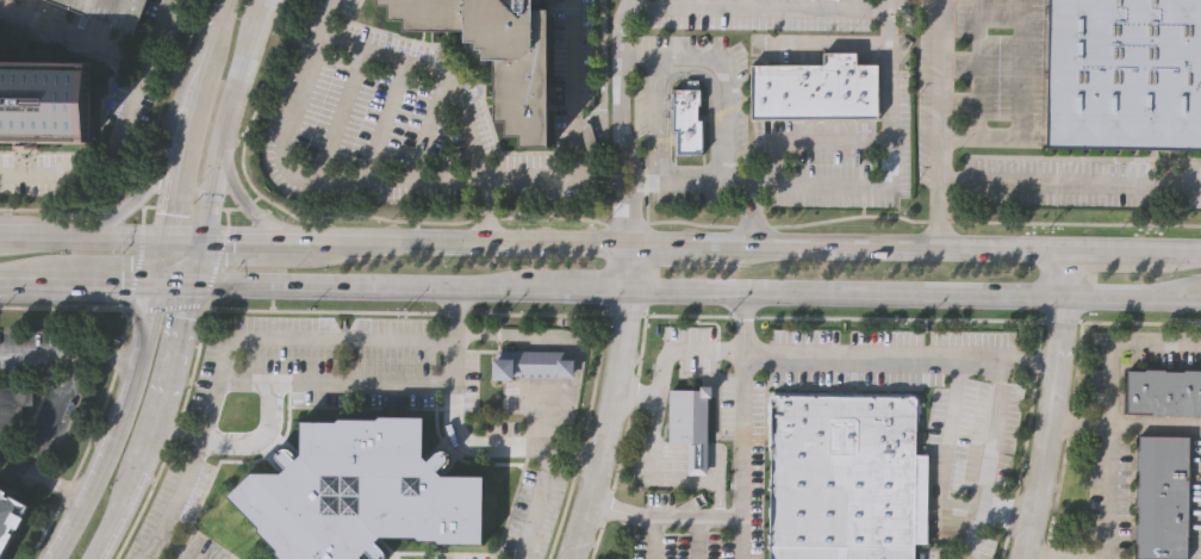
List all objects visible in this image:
road: (269, 1)
road: (758, 6)
building: (111, 11)
parking garage: (111, 11)
road: (57, 14)
building: (430, 14)
road: (1022, 29)
building: (503, 30)
road: (75, 32)
road: (214, 38)
road: (830, 39)
road: (621, 60)
road: (175, 70)
road: (436, 72)
road: (723, 74)
building: (1125, 74)
road: (145, 76)
building: (529, 88)
building: (810, 88)
road: (655, 92)
road: (162, 97)
building: (41, 101)
road: (194, 103)
building: (686, 120)
road: (225, 122)
road: (939, 124)
road: (847, 142)
road: (656, 155)
road: (618, 167)
road: (635, 167)
road: (62, 175)
road: (428, 179)
road: (1070, 182)
road: (175, 185)
road: (785, 185)
road: (120, 207)
road: (237, 207)
road: (61, 209)
road: (247, 210)
road: (487, 210)
road: (621, 225)
road: (627, 229)
road: (10, 241)
road: (490, 241)
road: (92, 243)
road: (275, 243)
traffic signals: (163, 244)
road: (181, 244)
traffic signals: (199, 244)
road: (689, 244)
road: (845, 247)
road: (1001, 249)
road: (1100, 251)
road: (1169, 253)
road: (160, 265)
road: (195, 265)
road: (214, 266)
road: (136, 268)
road: (1063, 273)
road: (14, 284)
road: (92, 284)
traffic signals: (156, 285)
road: (174, 285)
traffic signals: (193, 285)
road: (409, 286)
road: (680, 288)
road: (900, 292)
road: (1132, 296)
road: (164, 306)
road: (623, 315)
road: (1120, 322)
road: (452, 334)
road: (318, 337)
road: (181, 346)
road: (671, 349)
road: (111, 356)
road: (939, 359)
road: (575, 360)
road: (1026, 364)
building: (533, 366)
road: (73, 372)
road: (111, 380)
road: (217, 380)
building: (1164, 390)
road: (631, 395)
parking lot: (649, 398)
road: (611, 403)
road: (734, 403)
road: (1108, 405)
building: (12, 408)
road: (269, 415)
building: (689, 423)
road: (1125, 424)
road: (116, 426)
road: (1048, 428)
road: (181, 431)
road: (170, 437)
road: (531, 448)
road: (938, 453)
road: (658, 478)
building: (846, 478)
road: (42, 479)
road: (131, 483)
building: (361, 491)
building: (1159, 495)
road: (616, 510)
road: (1003, 511)
building: (10, 516)
road: (709, 518)
road: (967, 532)
road: (645, 539)
road: (687, 539)
road: (174, 546)
road: (1064, 554)

